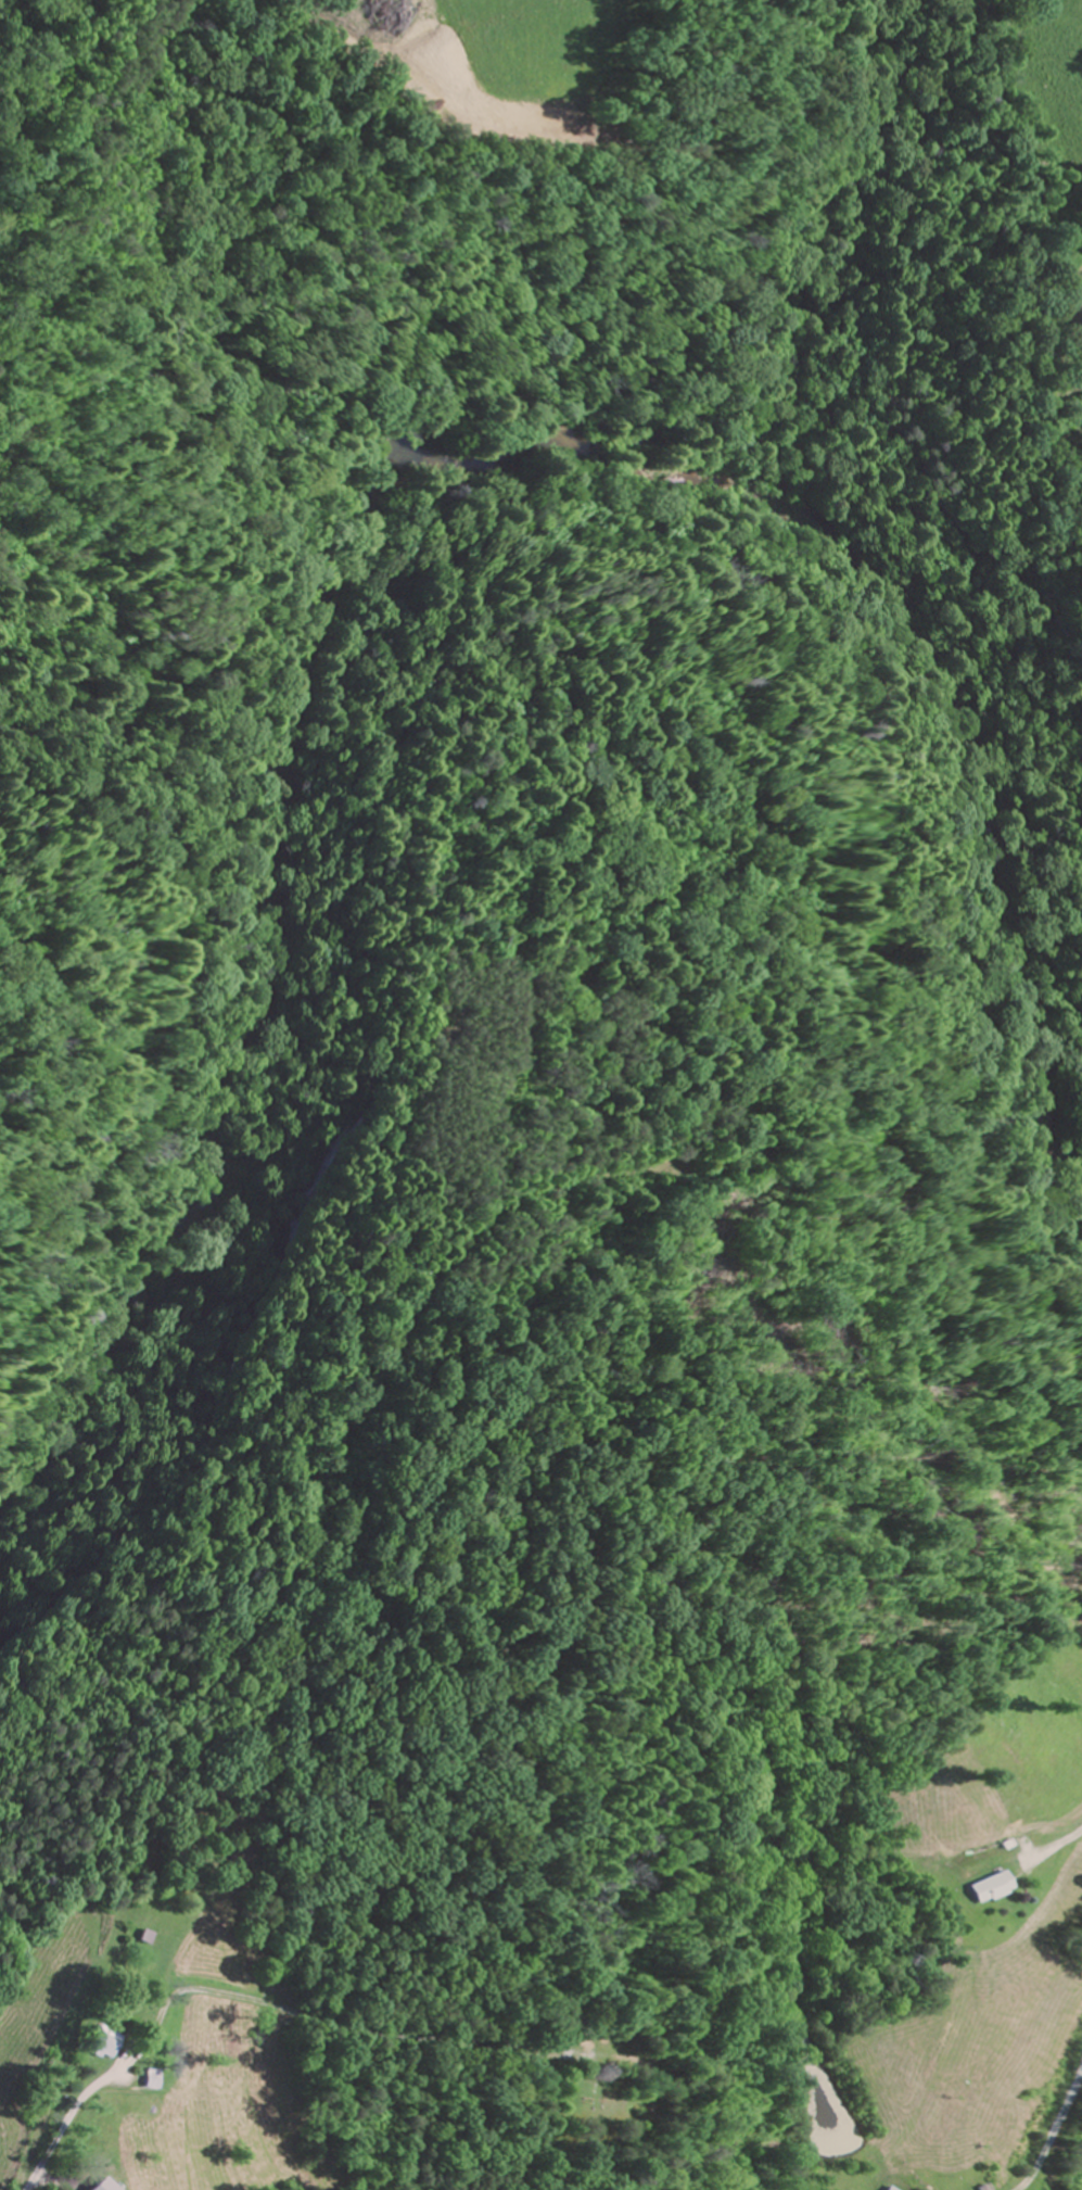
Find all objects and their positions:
road: (1056, 1847)
building: (996, 1887)
building: (110, 2040)
road: (73, 2119)
building: (104, 2186)
building: (898, 2189)

